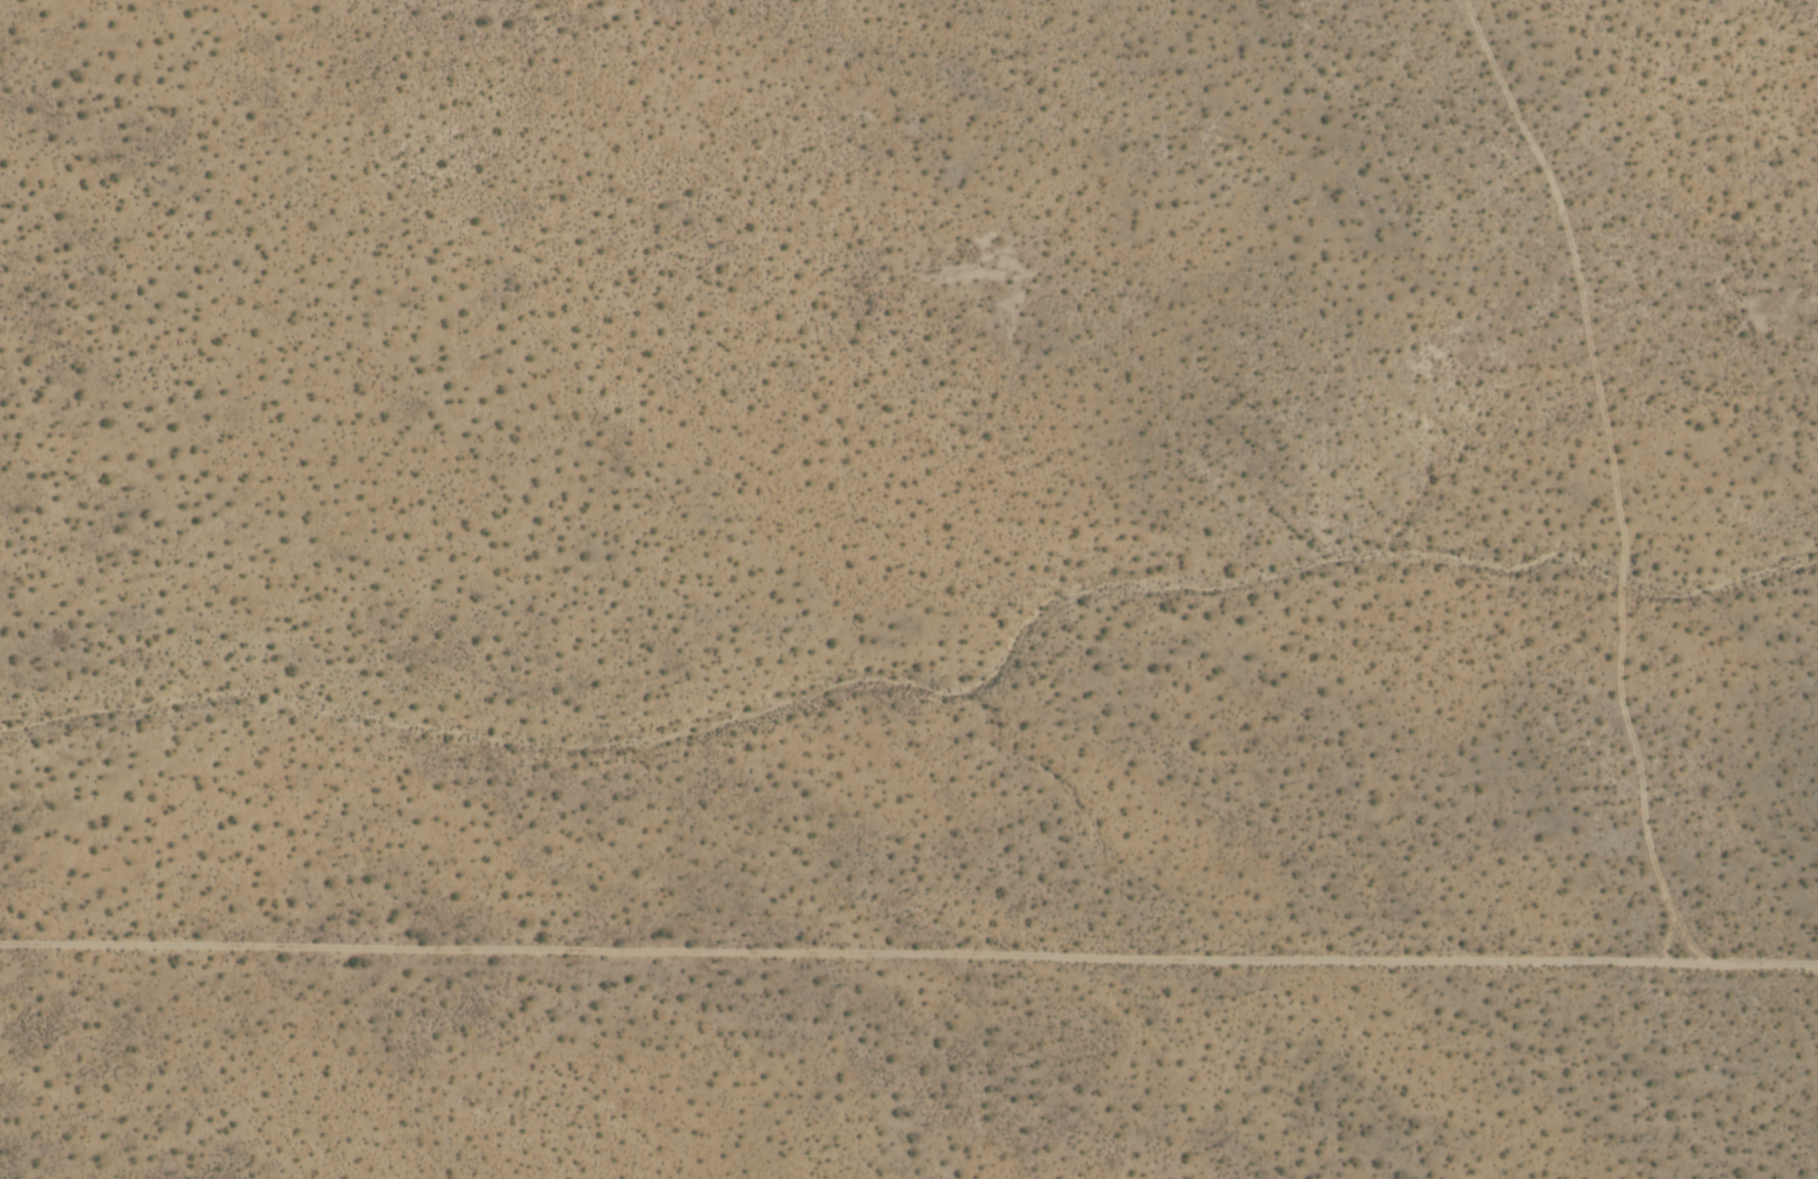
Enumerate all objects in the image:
road: (908, 952)

